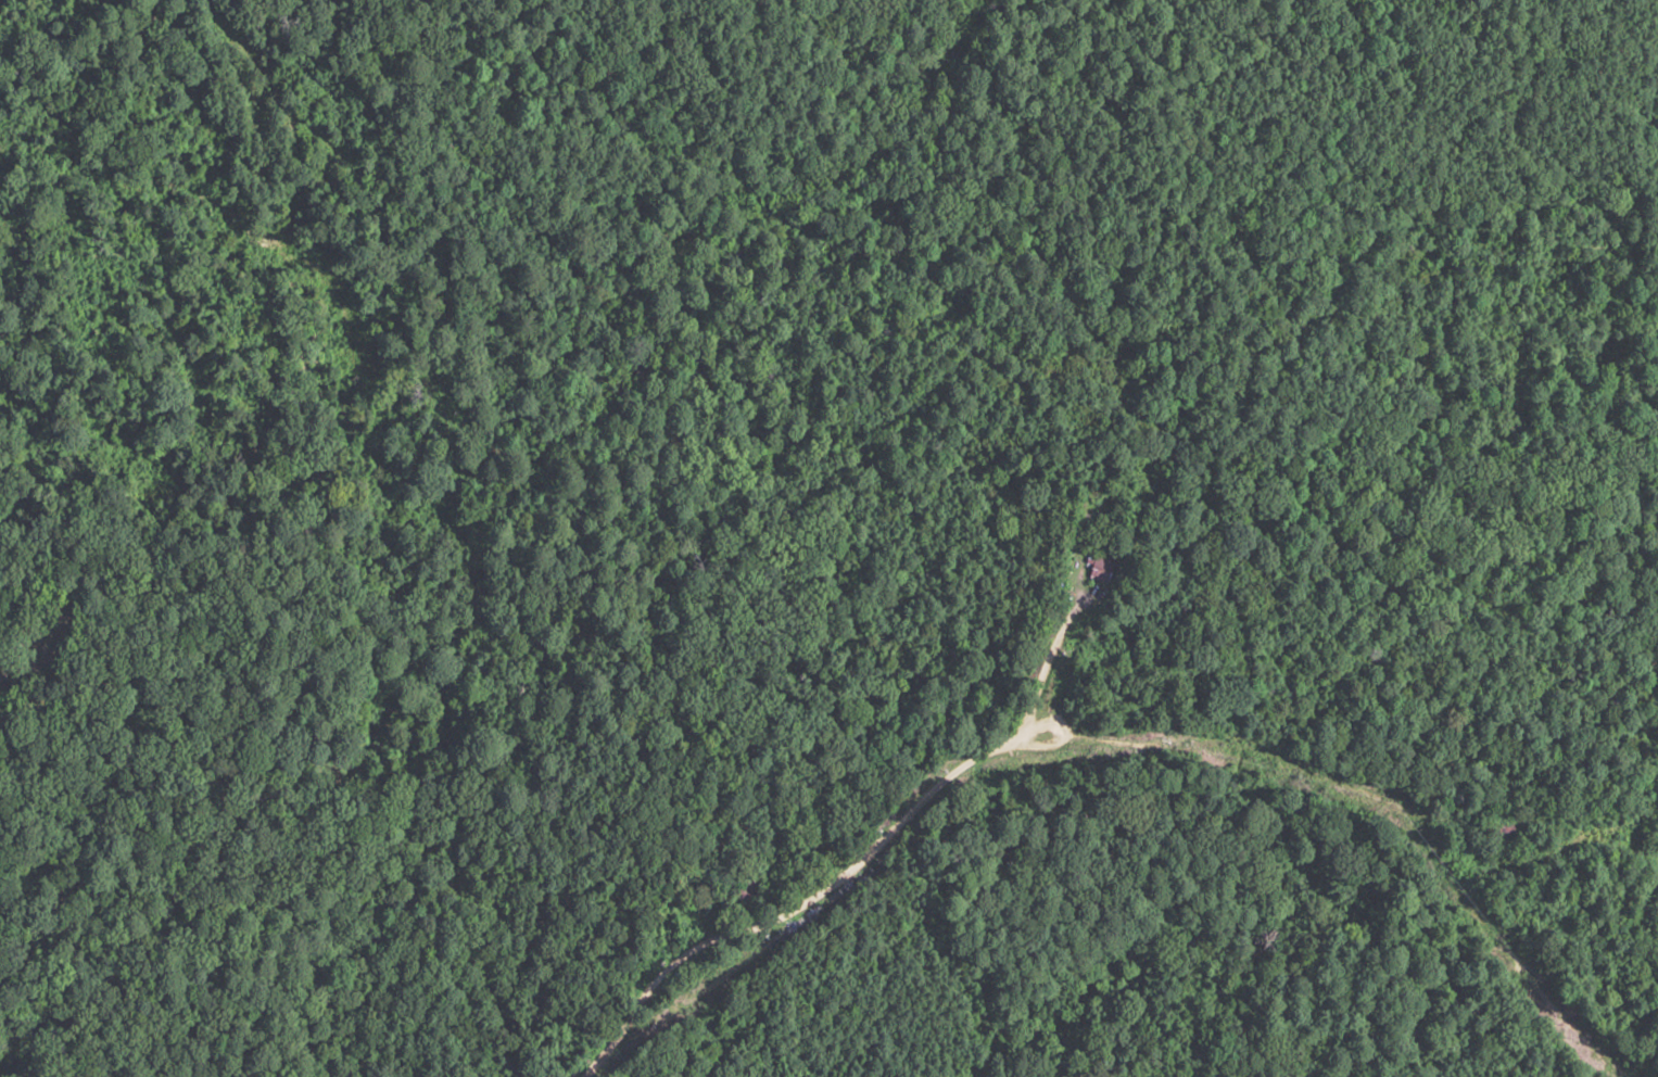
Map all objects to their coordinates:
building: (1096, 568)
building: (1501, 831)
building: (746, 887)
road: (733, 958)

